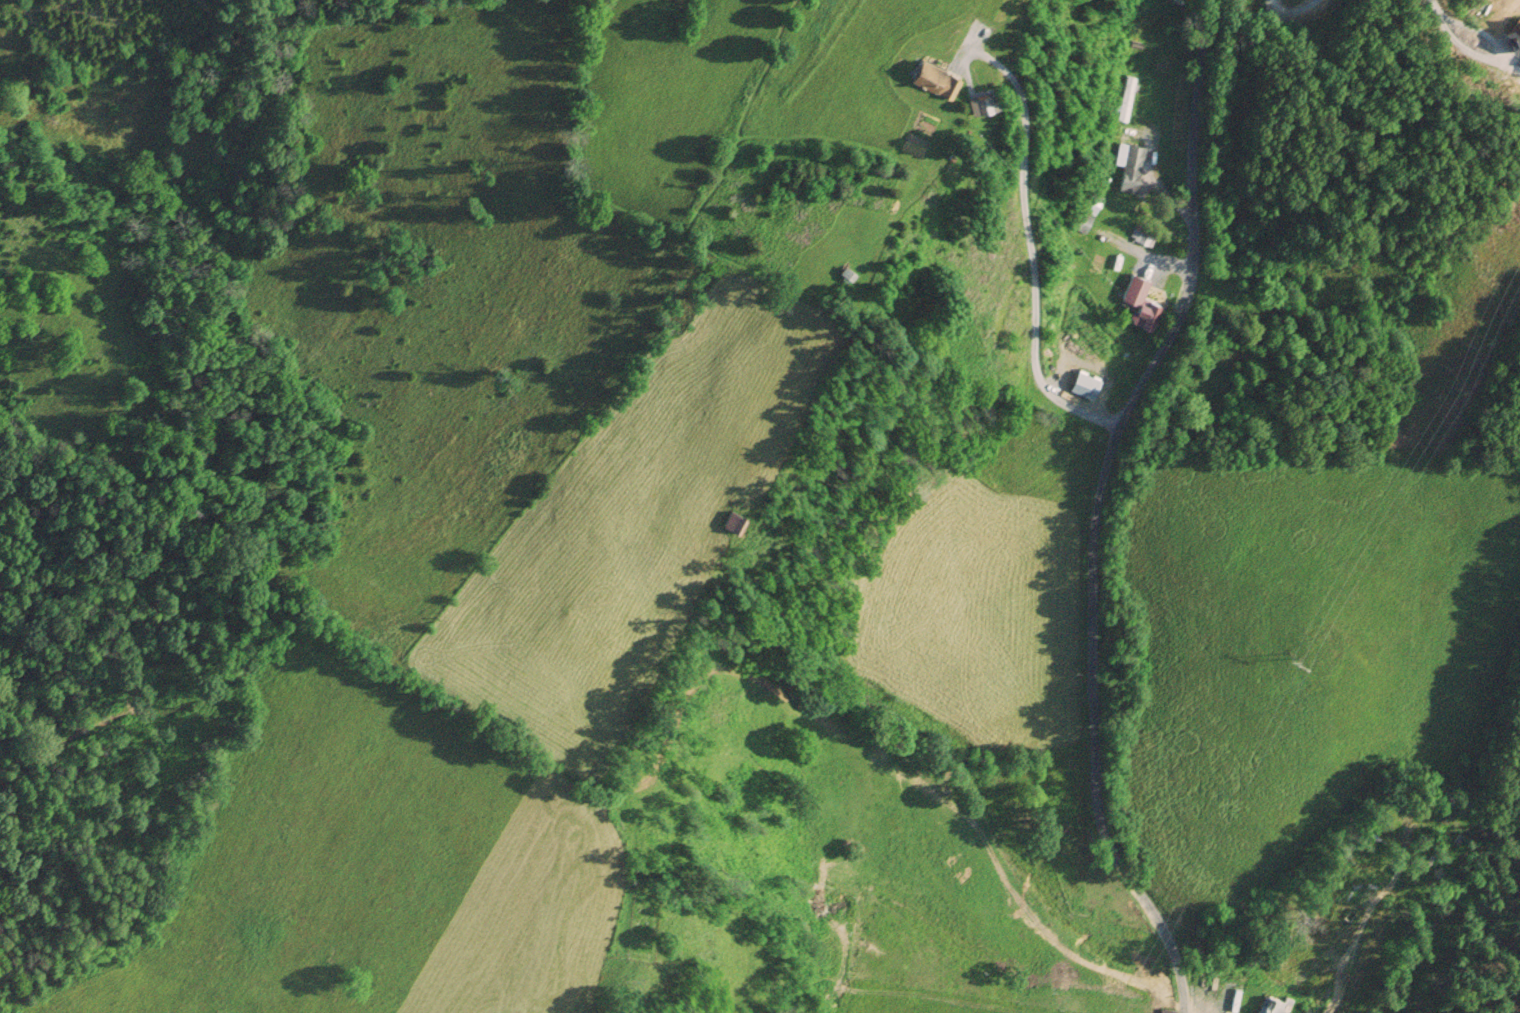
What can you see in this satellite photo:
building: (935, 81)
building: (1127, 98)
building: (1132, 170)
building: (1084, 224)
building: (1142, 238)
road: (1030, 252)
building: (1078, 252)
building: (1140, 302)
building: (1085, 385)
road: (1106, 507)
building: (734, 521)
building: (1270, 1005)

